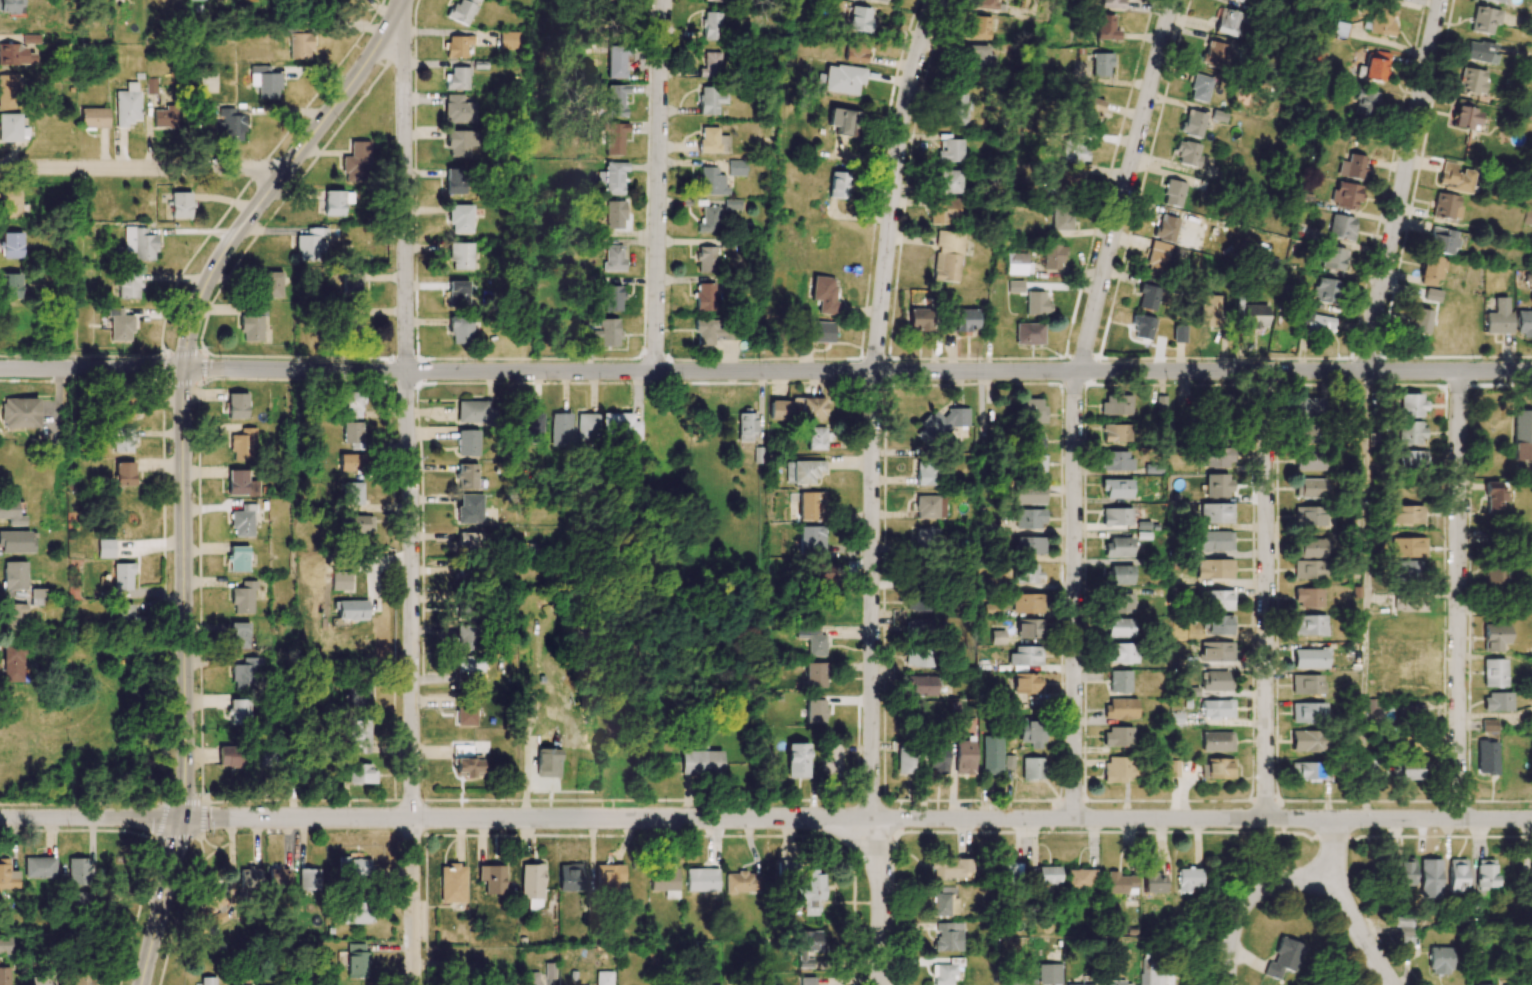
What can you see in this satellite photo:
building: (1395, 0)
building: (475, 1)
building: (719, 1)
building: (877, 1)
building: (1241, 1)
building: (1496, 1)
building: (1112, 3)
building: (984, 4)
building: (11, 6)
road: (400, 8)
building: (461, 12)
building: (858, 19)
building: (1484, 19)
building: (1382, 21)
building: (712, 26)
building: (1106, 27)
building: (977, 28)
building: (509, 40)
building: (300, 45)
building: (458, 46)
building: (854, 51)
building: (1480, 52)
building: (1213, 53)
building: (15, 54)
building: (976, 56)
building: (615, 62)
building: (1101, 64)
building: (711, 65)
building: (1373, 67)
building: (457, 79)
building: (842, 79)
building: (1471, 81)
building: (265, 82)
building: (1200, 88)
building: (8, 92)
building: (615, 99)
building: (711, 99)
building: (1365, 102)
building: (1529, 103)
building: (127, 105)
building: (458, 109)
building: (958, 109)
building: (1091, 110)
building: (1464, 114)
building: (165, 116)
building: (94, 117)
building: (1193, 123)
building: (230, 125)
building: (11, 127)
building: (614, 138)
building: (713, 140)
building: (460, 143)
building: (949, 150)
building: (1075, 150)
building: (1187, 153)
building: (355, 162)
building: (737, 167)
building: (1351, 167)
road: (142, 168)
building: (1455, 177)
building: (610, 178)
building: (1070, 179)
building: (455, 181)
building: (949, 181)
building: (712, 182)
road: (274, 185)
road: (659, 185)
building: (838, 185)
road: (1126, 185)
road: (1402, 185)
building: (1173, 193)
building: (1345, 195)
building: (334, 203)
building: (9, 204)
building: (732, 204)
building: (181, 205)
building: (1445, 206)
building: (943, 211)
building: (615, 215)
building: (1062, 217)
building: (1527, 217)
building: (460, 218)
building: (709, 220)
building: (1341, 227)
building: (1166, 228)
building: (1441, 240)
building: (140, 243)
building: (312, 244)
building: (11, 245)
building: (461, 256)
building: (947, 256)
building: (1053, 256)
building: (613, 258)
building: (1157, 258)
building: (706, 259)
building: (1332, 259)
building: (1430, 271)
building: (128, 284)
building: (271, 284)
building: (352, 284)
building: (9, 286)
building: (1324, 290)
building: (458, 292)
building: (824, 293)
building: (1431, 295)
building: (705, 296)
building: (1148, 297)
building: (612, 298)
building: (1034, 303)
building: (1209, 311)
building: (1254, 316)
building: (1498, 318)
building: (919, 320)
building: (962, 320)
building: (1418, 321)
building: (1316, 322)
building: (1523, 323)
building: (120, 325)
building: (1141, 326)
building: (251, 327)
building: (460, 329)
building: (710, 331)
building: (609, 332)
building: (820, 332)
building: (1029, 334)
building: (1179, 334)
street lamp: (1269, 359)
street lamp: (1351, 360)
road: (93, 369)
road: (858, 372)
street lamp: (1168, 381)
building: (1223, 402)
building: (352, 404)
building: (237, 405)
building: (1117, 405)
building: (1411, 405)
building: (1307, 407)
building: (808, 408)
road: (872, 408)
building: (780, 410)
building: (1031, 410)
building: (474, 412)
building: (19, 413)
building: (620, 425)
building: (941, 425)
building: (532, 426)
building: (747, 427)
building: (560, 429)
building: (586, 430)
building: (352, 432)
building: (1117, 433)
building: (1410, 433)
building: (1307, 434)
building: (1522, 435)
building: (122, 438)
building: (816, 438)
building: (1033, 440)
building: (467, 443)
building: (244, 444)
building: (1220, 457)
building: (1411, 459)
building: (1308, 460)
building: (1116, 461)
building: (351, 462)
building: (1036, 463)
building: (803, 471)
building: (125, 474)
building: (926, 474)
building: (467, 476)
building: (241, 483)
building: (1217, 485)
building: (1117, 488)
building: (1309, 488)
building: (353, 493)
building: (1028, 494)
building: (1494, 496)
road: (411, 500)
building: (811, 505)
building: (930, 507)
building: (470, 509)
building: (1216, 513)
building: (11, 514)
building: (1408, 514)
building: (1116, 516)
building: (1308, 516)
building: (1029, 517)
building: (243, 521)
building: (359, 523)
building: (926, 536)
building: (811, 539)
building: (1214, 540)
building: (469, 541)
building: (1030, 545)
building: (1118, 547)
building: (1408, 547)
building: (106, 548)
building: (1309, 548)
building: (238, 559)
building: (1214, 569)
building: (1308, 569)
building: (1409, 570)
building: (1025, 573)
building: (461, 574)
building: (1120, 574)
building: (14, 575)
building: (123, 576)
building: (1494, 577)
building: (341, 581)
road: (184, 595)
road: (1074, 595)
road: (1266, 595)
road: (1365, 595)
road: (1458, 595)
building: (36, 596)
building: (1308, 597)
building: (243, 598)
building: (1218, 600)
building: (1409, 602)
building: (917, 603)
building: (1026, 603)
building: (1120, 603)
building: (465, 607)
building: (351, 609)
building: (15, 613)
building: (122, 613)
building: (1218, 624)
building: (1308, 624)
building: (912, 625)
building: (1118, 627)
building: (1028, 628)
building: (238, 635)
building: (465, 637)
building: (1493, 637)
building: (811, 638)
building: (1216, 651)
building: (1120, 653)
building: (919, 656)
building: (1025, 656)
building: (1405, 656)
building: (1310, 658)
building: (12, 663)
building: (469, 663)
building: (1493, 673)
building: (245, 674)
building: (815, 674)
building: (1119, 681)
building: (1215, 681)
building: (1025, 683)
building: (1307, 684)
building: (920, 685)
building: (1412, 688)
building: (1382, 689)
building: (358, 694)
building: (1497, 701)
building: (1120, 708)
building: (1216, 708)
building: (815, 711)
building: (1308, 712)
building: (1414, 712)
building: (239, 713)
building: (466, 713)
building: (1488, 725)
building: (1029, 732)
building: (360, 737)
building: (1117, 737)
building: (701, 741)
building: (1216, 741)
building: (1308, 741)
building: (989, 755)
building: (231, 756)
building: (962, 756)
building: (1486, 757)
building: (936, 759)
building: (466, 760)
building: (797, 760)
building: (830, 760)
building: (547, 762)
building: (701, 762)
building: (905, 762)
building: (1031, 768)
building: (1173, 768)
building: (1219, 768)
building: (1121, 769)
building: (1403, 769)
building: (1307, 770)
building: (360, 773)
road: (90, 818)
road: (526, 818)
road: (1201, 819)
road: (1333, 851)
building: (354, 866)
building: (39, 867)
building: (951, 869)
building: (1008, 870)
building: (78, 871)
building: (1406, 872)
building: (1486, 873)
building: (7, 875)
building: (1048, 875)
building: (608, 876)
building: (1457, 876)
building: (1530, 876)
building: (249, 877)
building: (279, 877)
building: (570, 877)
building: (492, 878)
building: (1079, 878)
road: (1301, 878)
building: (1431, 878)
building: (308, 879)
building: (702, 879)
building: (1187, 879)
building: (665, 882)
building: (743, 882)
building: (1152, 882)
building: (452, 883)
building: (1119, 883)
building: (531, 884)
building: (810, 893)
building: (79, 900)
road: (162, 902)
road: (881, 903)
building: (945, 905)
building: (213, 909)
building: (355, 913)
building: (948, 936)
building: (5, 945)
building: (807, 946)
building: (1284, 958)
building: (356, 960)
building: (1440, 961)
building: (945, 972)
building: (1049, 974)
building: (3, 976)
building: (81, 978)
building: (532, 978)
building: (603, 978)
building: (1155, 978)
building: (41, 979)
building: (207, 981)
building: (807, 981)
building: (694, 982)
building: (1531, 982)
building: (1015, 983)
building: (1118, 983)
building: (1079, 984)

